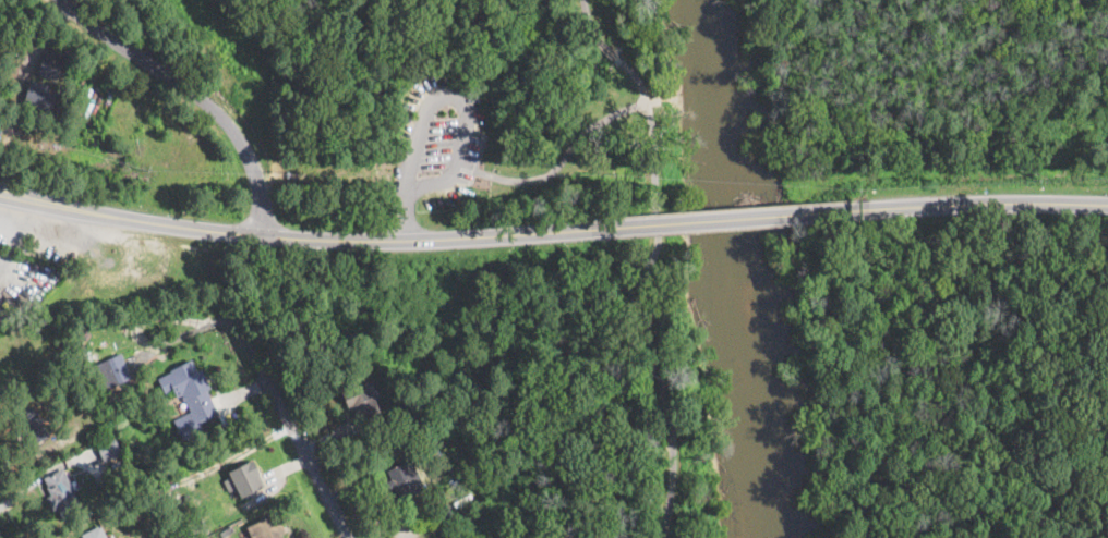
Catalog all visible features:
road: (586, 8)
road: (598, 39)
building: (48, 66)
building: (62, 75)
road: (193, 93)
building: (38, 97)
road: (460, 111)
building: (87, 137)
parking lot: (437, 138)
road: (562, 160)
road: (397, 204)
road: (978, 204)
road: (12, 209)
road: (726, 217)
road: (300, 234)
river: (740, 269)
road: (641, 293)
building: (86, 333)
building: (112, 371)
building: (190, 396)
building: (363, 403)
building: (32, 425)
road: (290, 427)
building: (107, 448)
building: (244, 478)
building: (401, 480)
building: (165, 487)
building: (61, 494)
building: (181, 503)
building: (446, 512)
building: (266, 528)
building: (228, 529)
building: (95, 533)
building: (217, 535)
building: (111, 537)

